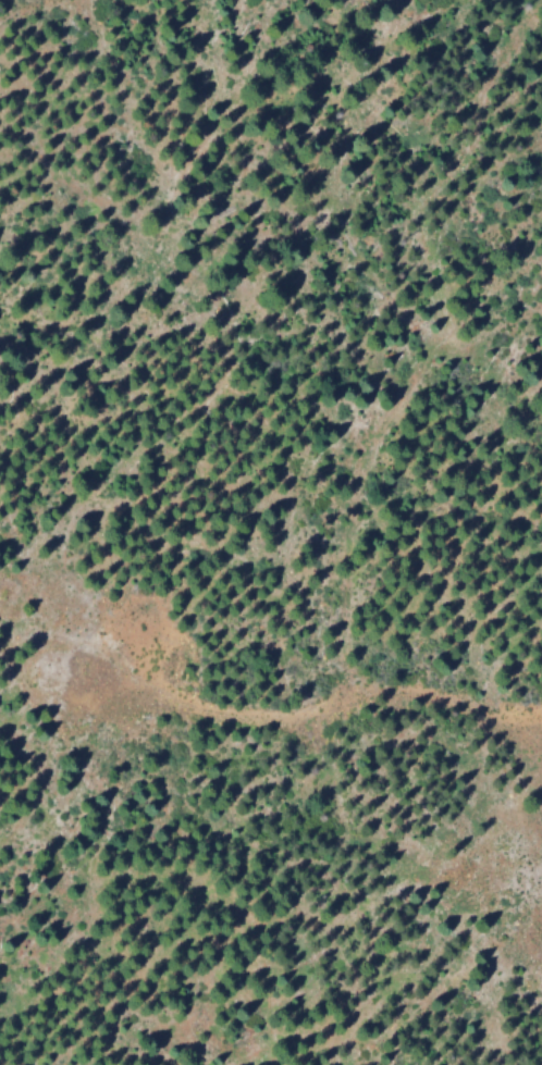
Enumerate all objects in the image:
road: (328, 704)

